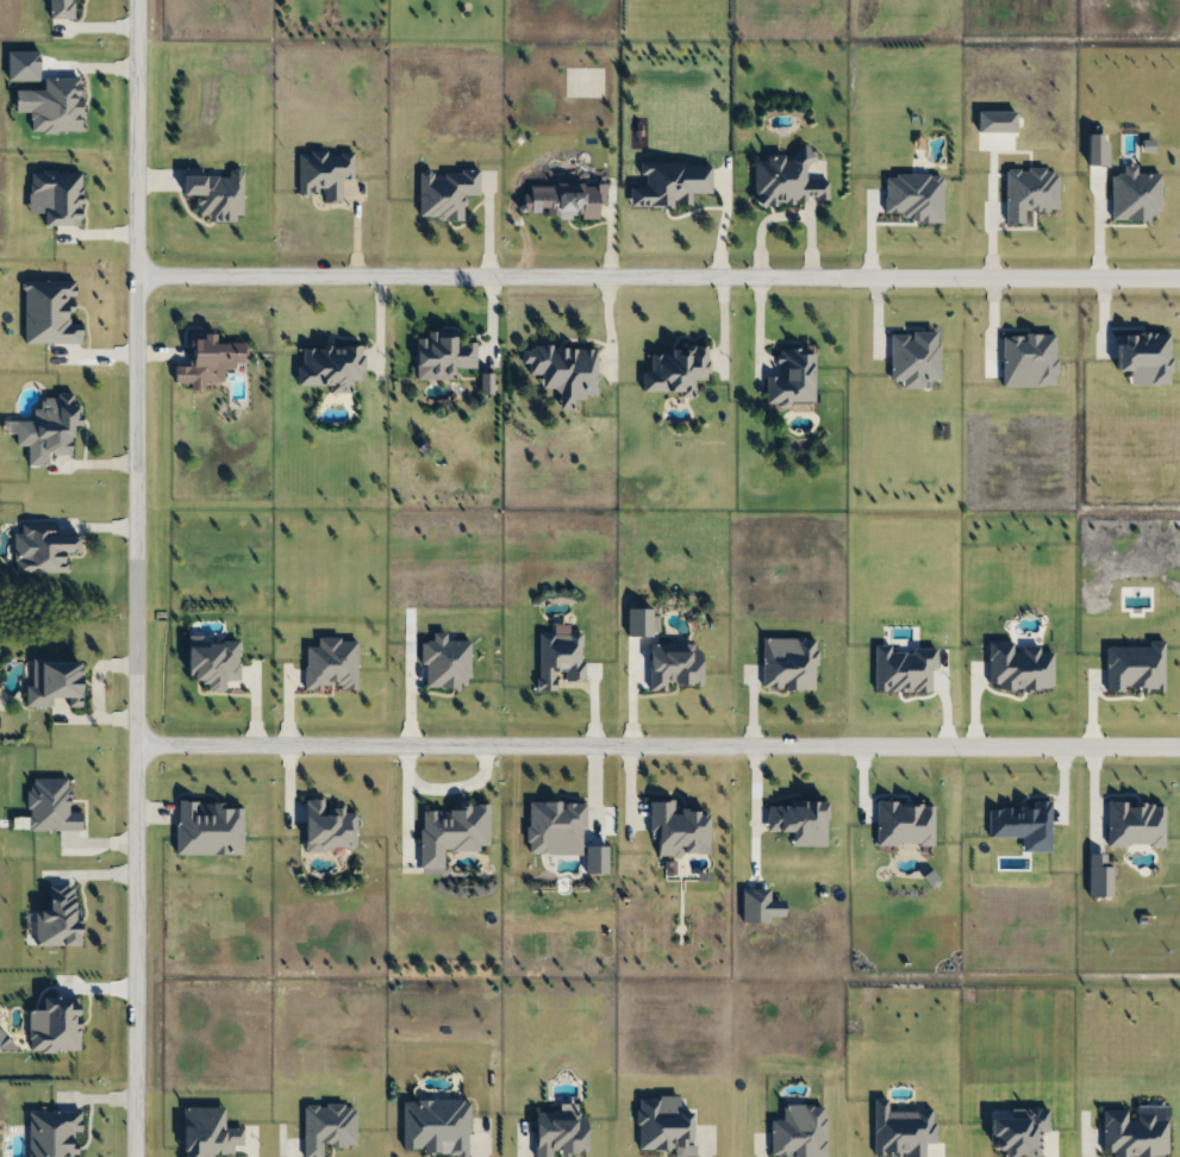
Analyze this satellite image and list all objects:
building: (789, 179)
building: (672, 182)
building: (572, 199)
road: (719, 225)
road: (655, 279)
building: (214, 362)
building: (331, 367)
building: (676, 369)
building: (566, 370)
building: (792, 377)
road: (131, 578)
road: (655, 745)
road: (442, 786)

